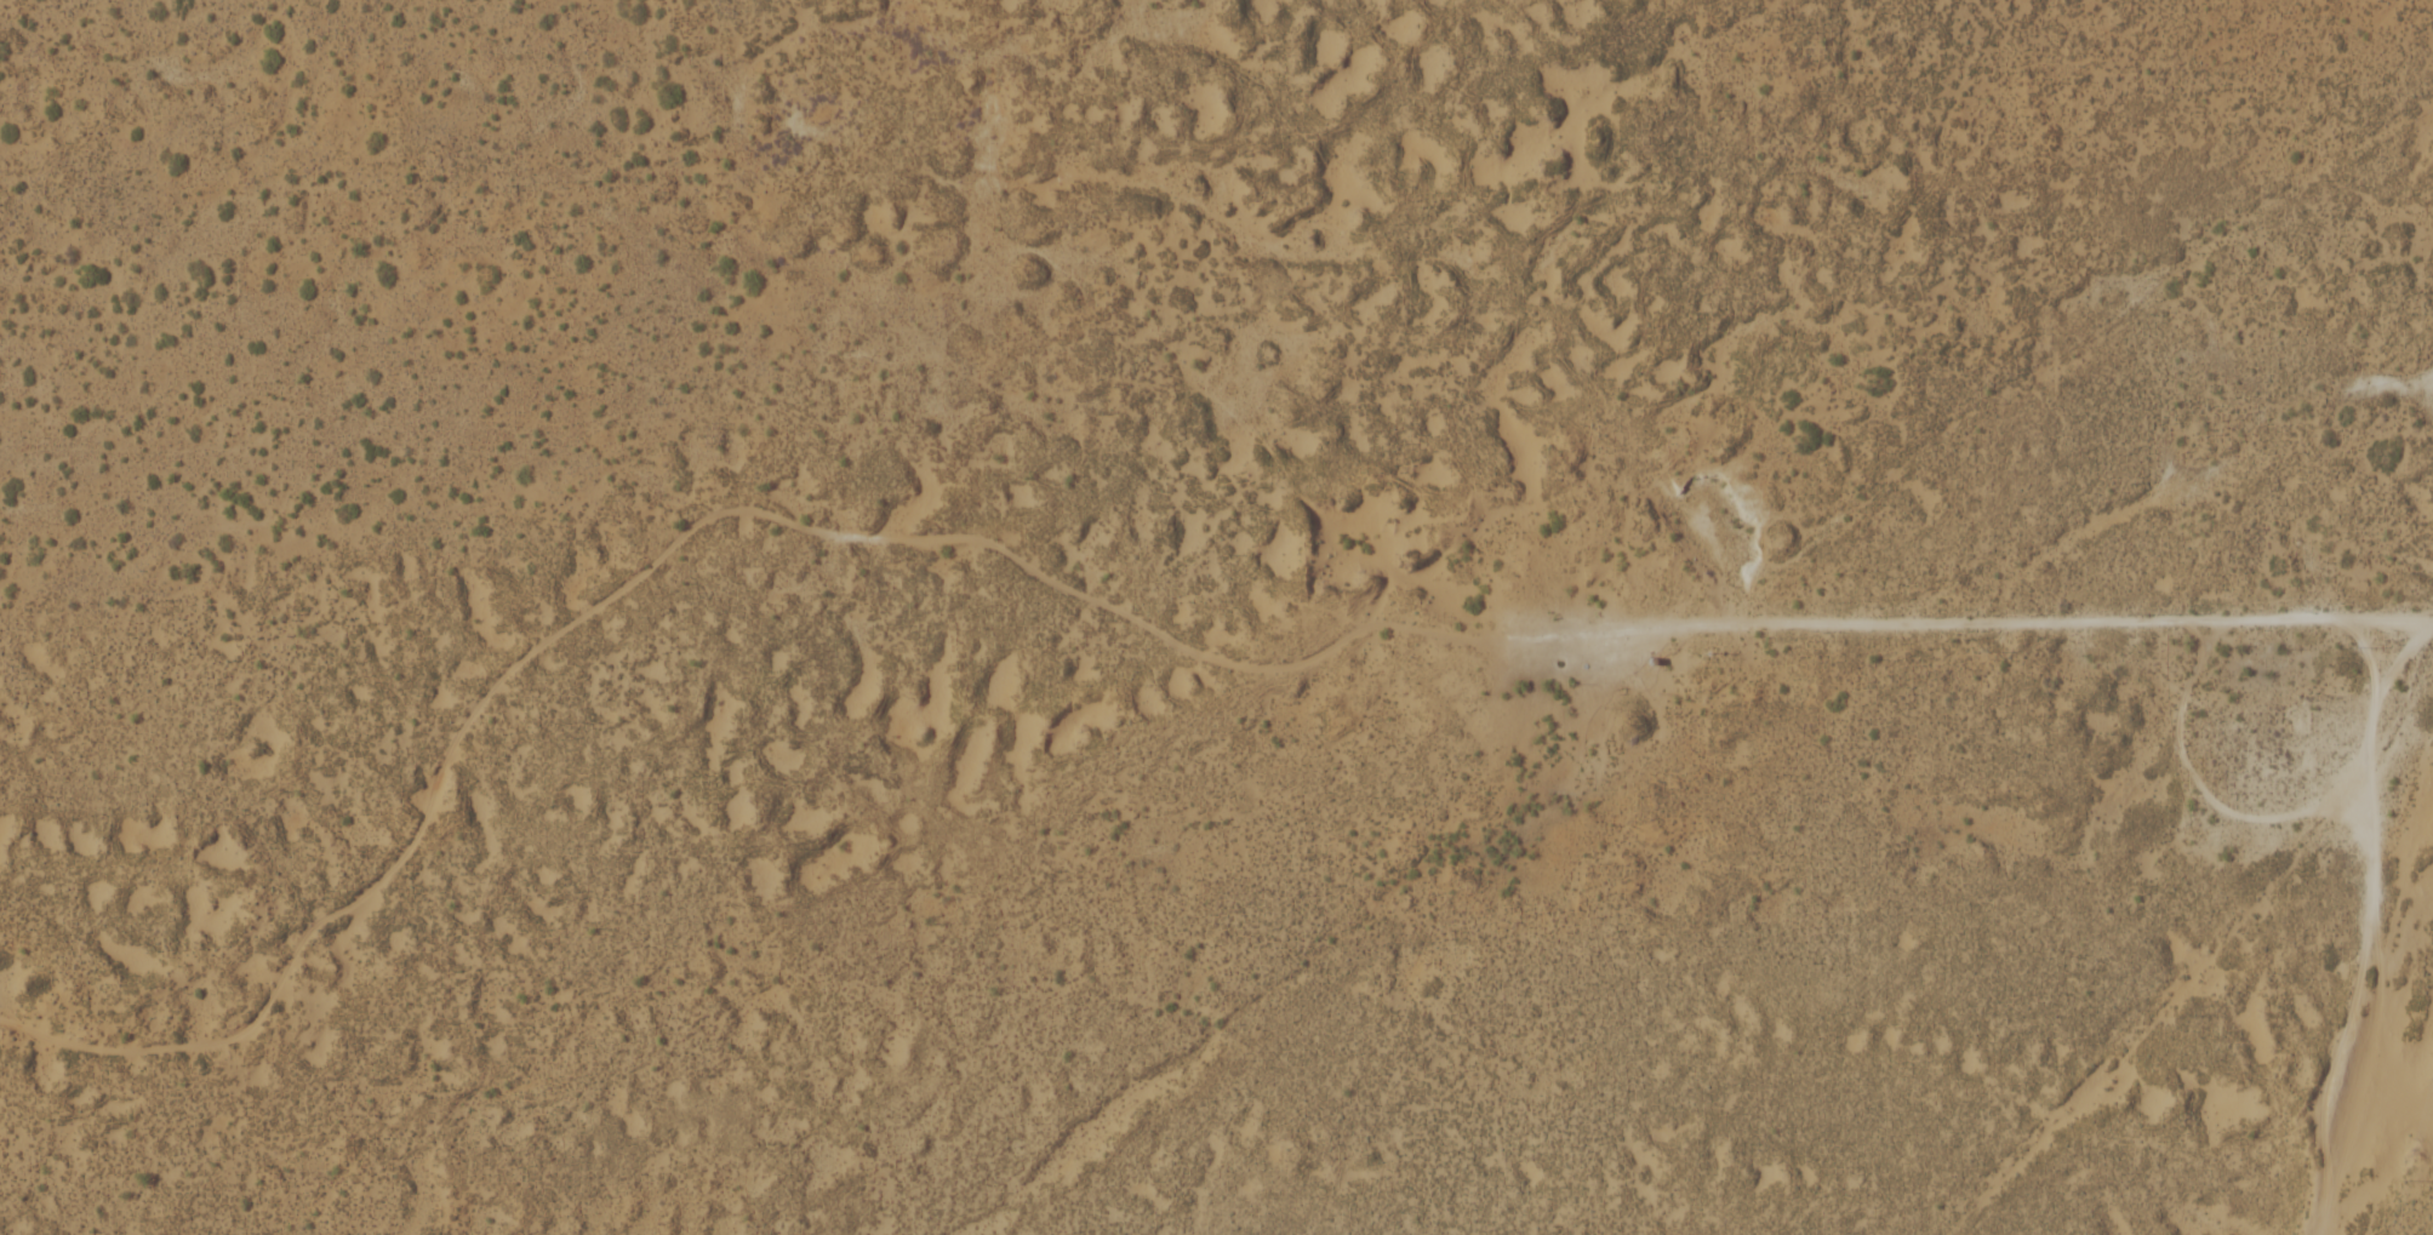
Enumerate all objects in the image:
road: (2038, 623)
road: (2376, 922)

